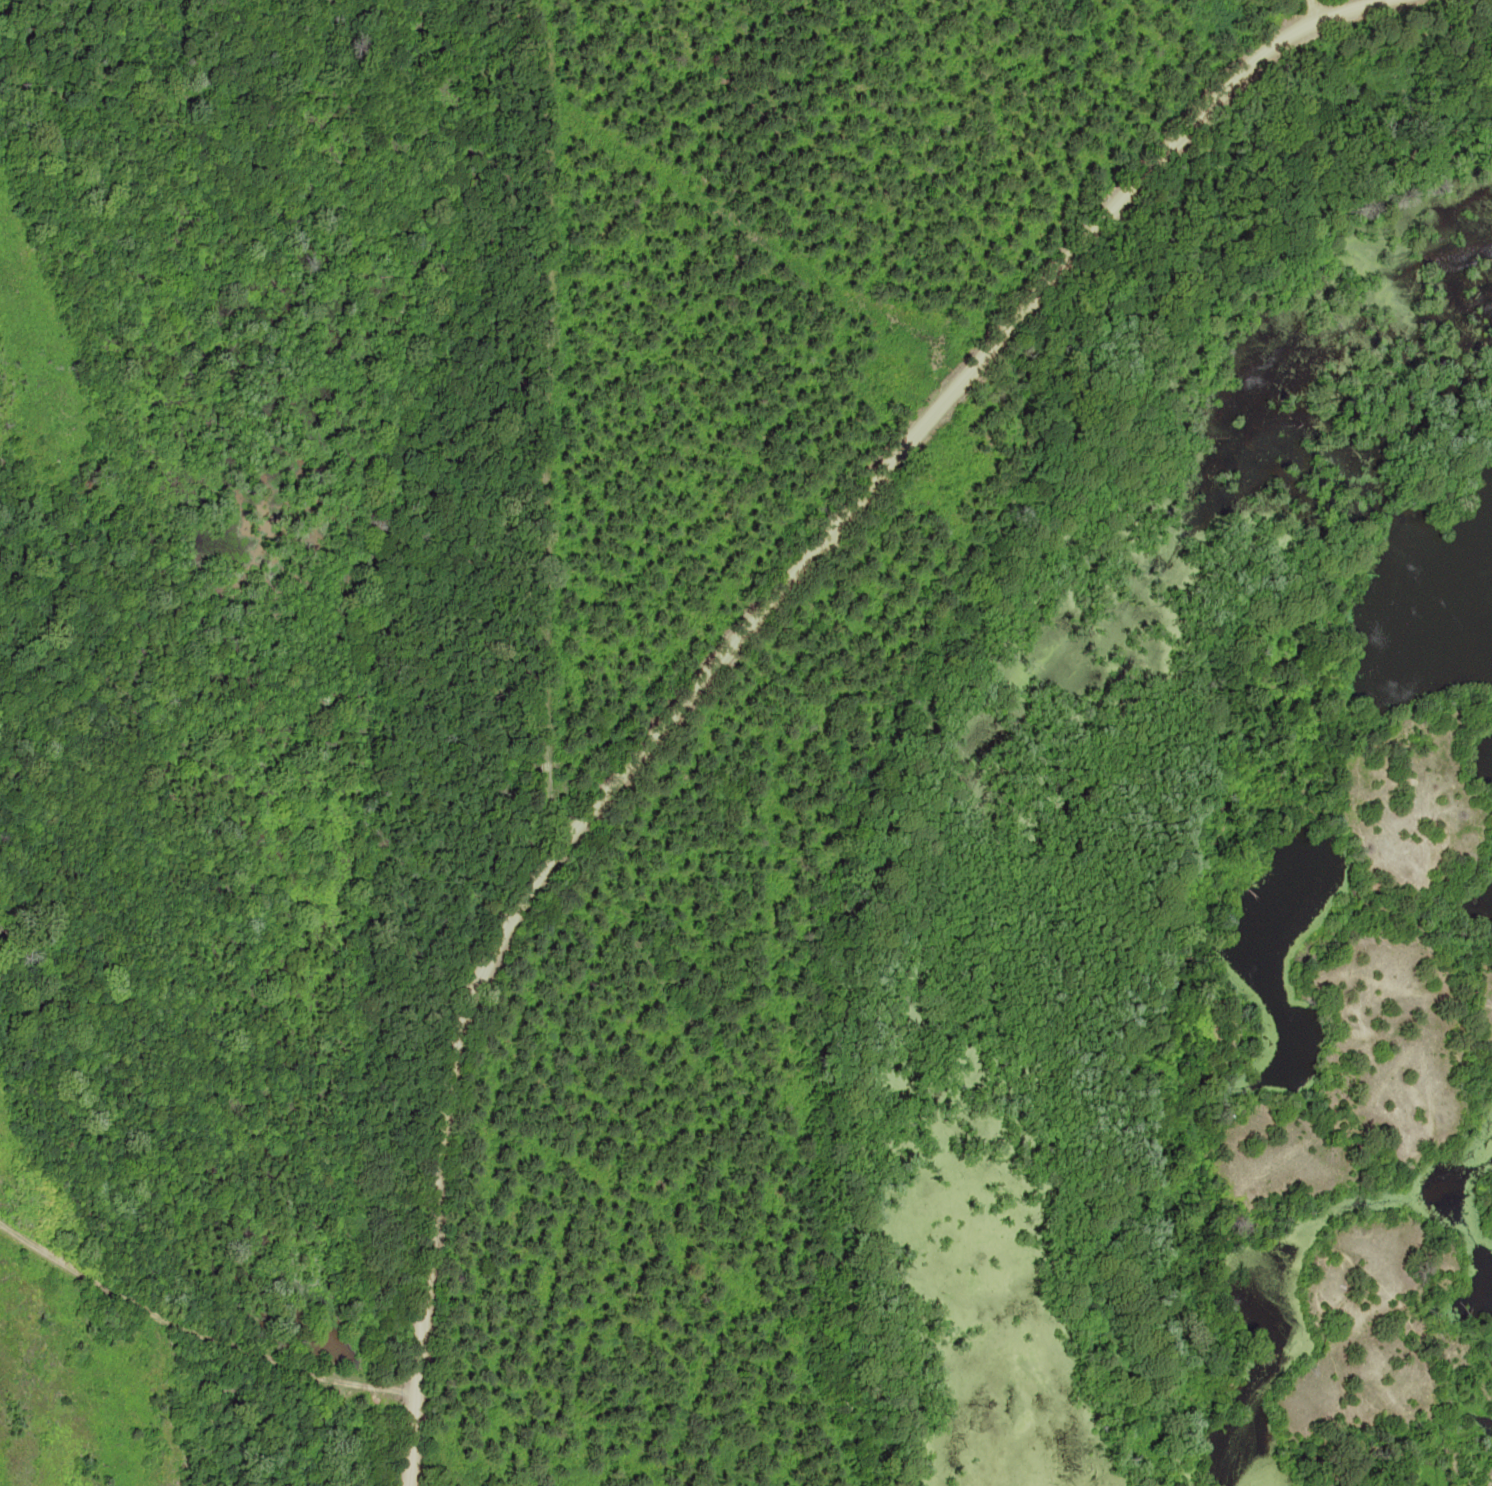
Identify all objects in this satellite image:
road: (965, 340)
road: (435, 1116)
road: (197, 1256)

